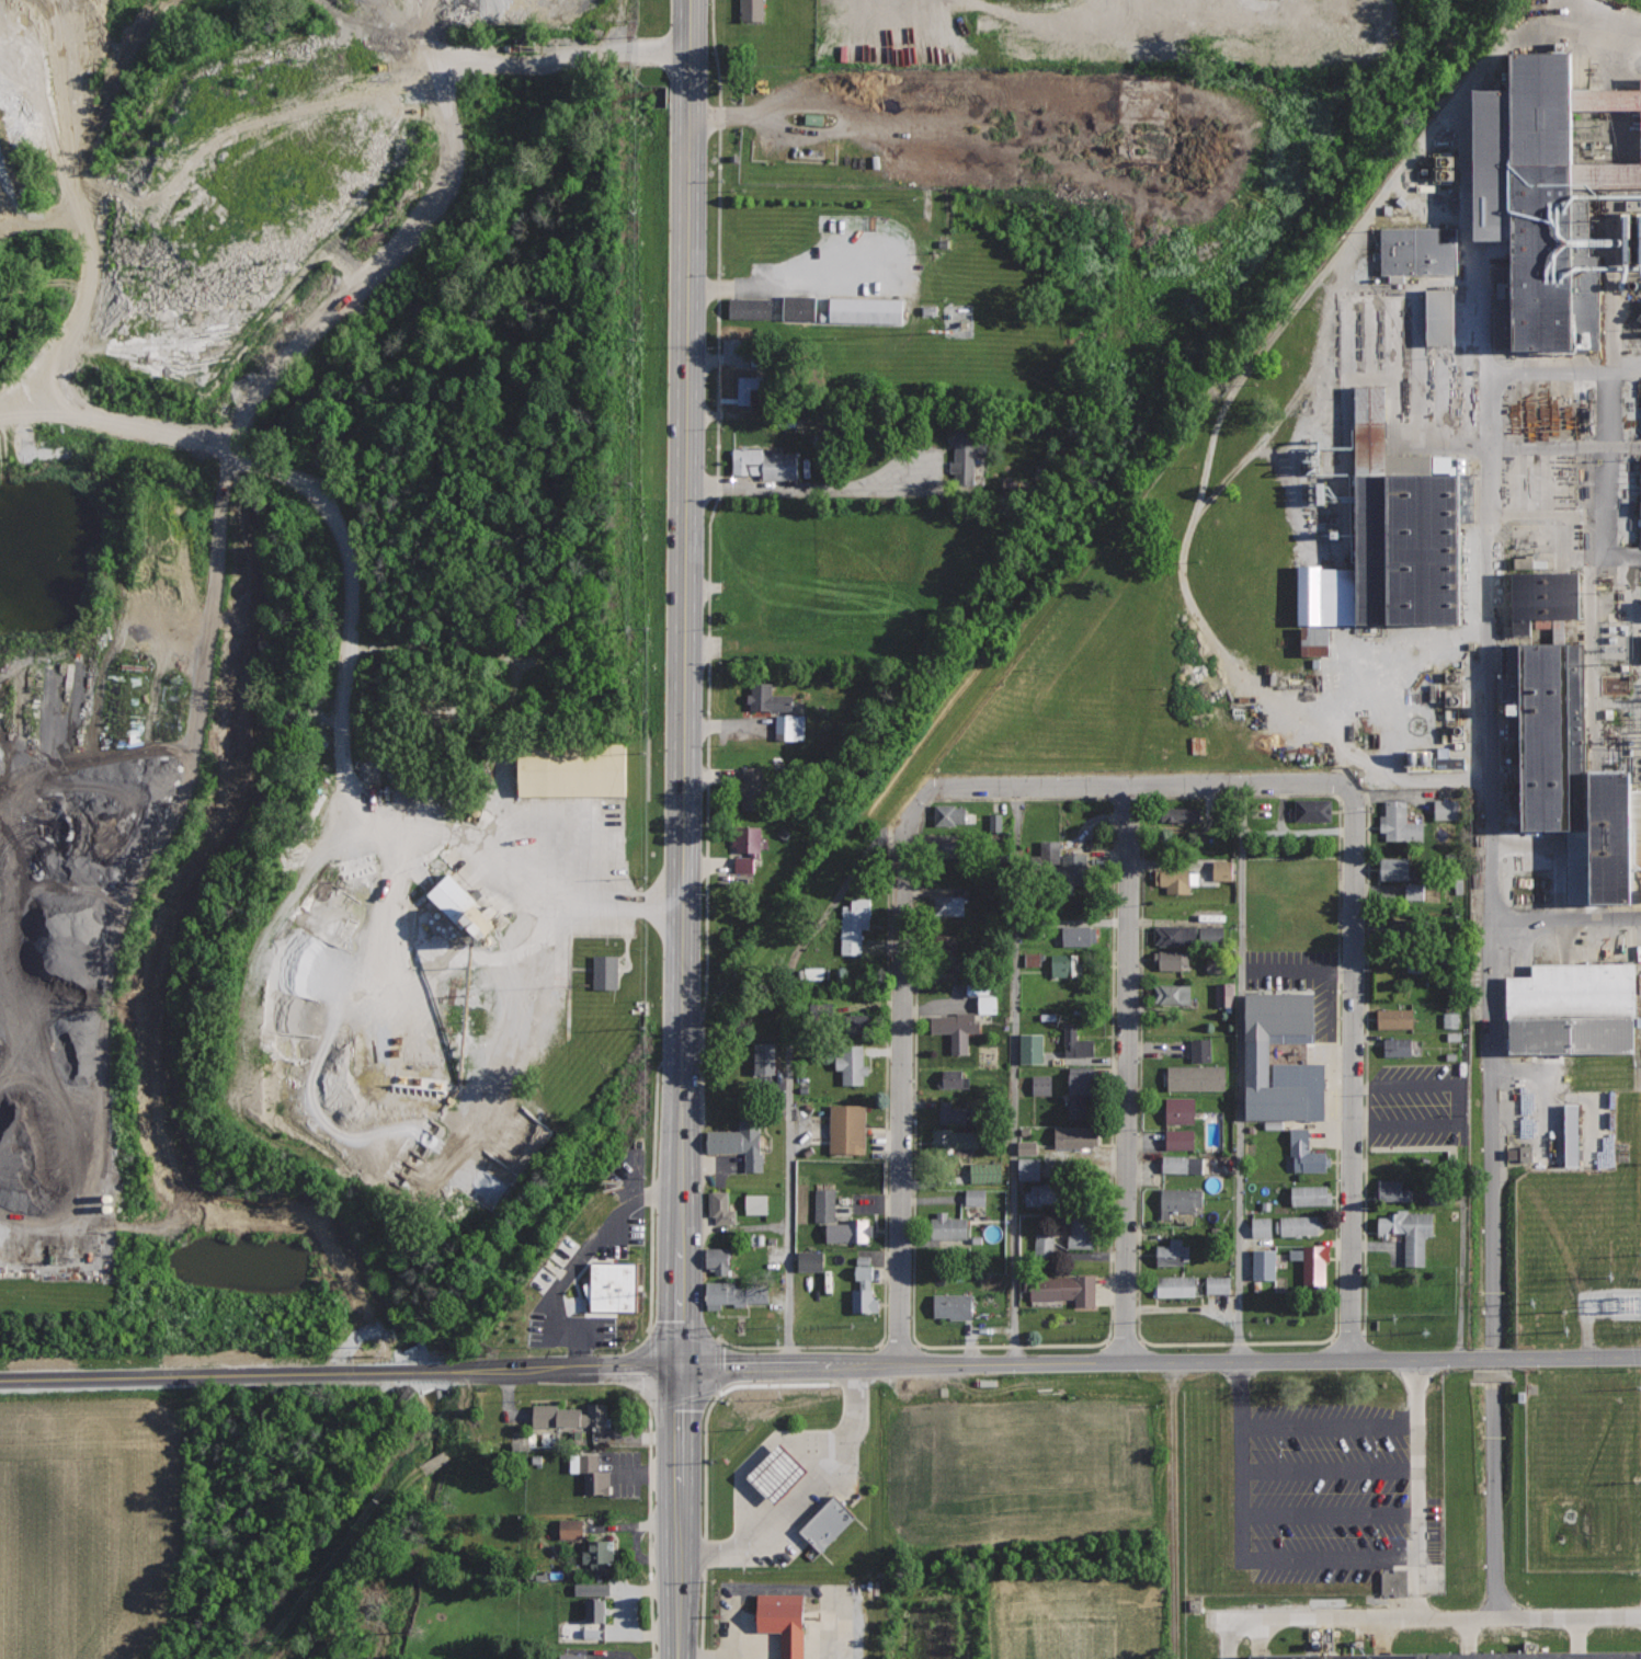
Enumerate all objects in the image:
building: (754, 10)
parking lot: (950, 31)
road: (527, 53)
road: (1033, 54)
road: (890, 55)
building: (1540, 178)
road: (78, 204)
road: (39, 217)
building: (1415, 251)
road: (394, 256)
road: (782, 268)
parking lot: (836, 279)
road: (892, 293)
building: (751, 308)
building: (799, 308)
building: (865, 309)
road: (1294, 310)
building: (1433, 318)
road: (1561, 371)
building: (767, 391)
road: (1290, 402)
road: (1496, 447)
building: (968, 453)
building: (772, 466)
building: (1638, 496)
road: (314, 508)
road: (1608, 519)
building: (1389, 556)
building: (1518, 563)
road: (711, 637)
building: (1640, 648)
quarry: (330, 659)
building: (768, 698)
building: (790, 731)
building: (1563, 739)
building: (1433, 760)
building: (567, 769)
road: (1130, 785)
building: (750, 789)
road: (1488, 797)
building: (1441, 809)
road: (524, 810)
building: (1314, 810)
building: (950, 813)
building: (1182, 814)
building: (993, 822)
building: (1399, 822)
road: (685, 829)
parking lot: (557, 833)
building: (747, 847)
building: (945, 850)
building: (1060, 865)
road: (146, 868)
building: (1395, 868)
building: (1218, 870)
road: (1, 872)
building: (1174, 880)
building: (1412, 892)
building: (452, 902)
road: (611, 903)
building: (949, 904)
road: (1564, 919)
building: (851, 924)
building: (1404, 928)
building: (1189, 934)
building: (1076, 935)
road: (267, 937)
building: (945, 947)
road: (552, 948)
building: (1170, 958)
building: (1028, 959)
building: (1067, 965)
road: (50, 968)
building: (601, 972)
parking lot: (560, 982)
building: (1173, 993)
building: (1223, 994)
building: (982, 1005)
building: (1577, 1007)
building: (1395, 1018)
building: (1448, 1020)
building: (857, 1026)
building: (957, 1029)
building: (1078, 1040)
road: (1365, 1043)
building: (1398, 1045)
building: (1256, 1048)
building: (1026, 1049)
building: (1198, 1051)
building: (765, 1057)
road: (788, 1062)
building: (846, 1064)
road: (1353, 1072)
road: (1129, 1073)
road: (1241, 1073)
road: (1016, 1074)
building: (1196, 1077)
building: (955, 1078)
road: (902, 1082)
road: (52, 1084)
building: (1038, 1085)
building: (1081, 1088)
building: (1180, 1109)
road: (493, 1113)
building: (954, 1113)
building: (847, 1129)
building: (1566, 1135)
building: (1076, 1136)
building: (955, 1139)
building: (1180, 1139)
building: (740, 1143)
building: (1024, 1147)
building: (1304, 1153)
building: (1518, 1154)
building: (1183, 1164)
building: (1026, 1169)
building: (982, 1174)
road: (885, 1179)
building: (1393, 1190)
building: (1042, 1193)
building: (1310, 1194)
building: (971, 1198)
building: (1180, 1199)
road: (650, 1200)
building: (825, 1203)
building: (753, 1204)
building: (721, 1206)
building: (1297, 1225)
building: (948, 1226)
building: (1260, 1227)
building: (1409, 1229)
building: (1082, 1231)
building: (1041, 1245)
building: (565, 1246)
road: (629, 1247)
road: (586, 1249)
building: (1173, 1251)
building: (719, 1259)
building: (805, 1261)
building: (1261, 1265)
building: (1318, 1267)
parking lot: (599, 1273)
building: (1215, 1284)
building: (612, 1285)
building: (1175, 1285)
building: (1065, 1288)
building: (865, 1291)
building: (734, 1294)
power substation: (1627, 1302)
building: (955, 1305)
road: (1137, 1330)
road: (912, 1331)
road: (565, 1342)
road: (1161, 1362)
road: (341, 1375)
building: (569, 1416)
road: (1327, 1430)
road: (705, 1463)
parking lot: (1330, 1471)
building: (593, 1473)
building: (770, 1474)
road: (1329, 1478)
parking lot: (790, 1486)
road: (1417, 1489)
road: (799, 1490)
road: (1492, 1499)
road: (1171, 1510)
road: (1330, 1519)
building: (828, 1522)
building: (567, 1529)
road: (1241, 1551)
building: (600, 1554)
building: (1390, 1582)
road: (796, 1588)
building: (588, 1590)
building: (595, 1609)
road: (1426, 1620)
building: (783, 1621)
parking lot: (786, 1622)
road: (818, 1623)
road: (1230, 1639)
building: (569, 1656)
building: (1445, 1656)

